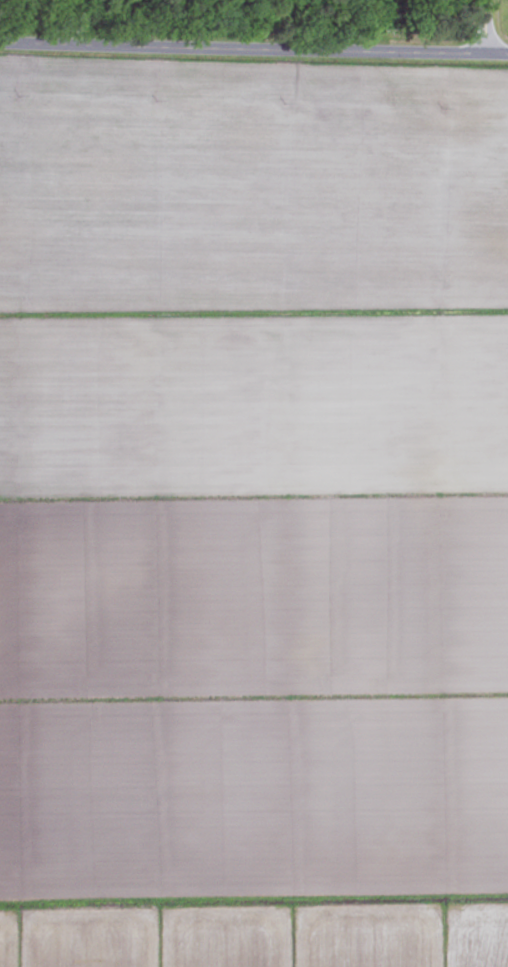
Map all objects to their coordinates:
road: (483, 29)
road: (241, 51)
road: (495, 58)

